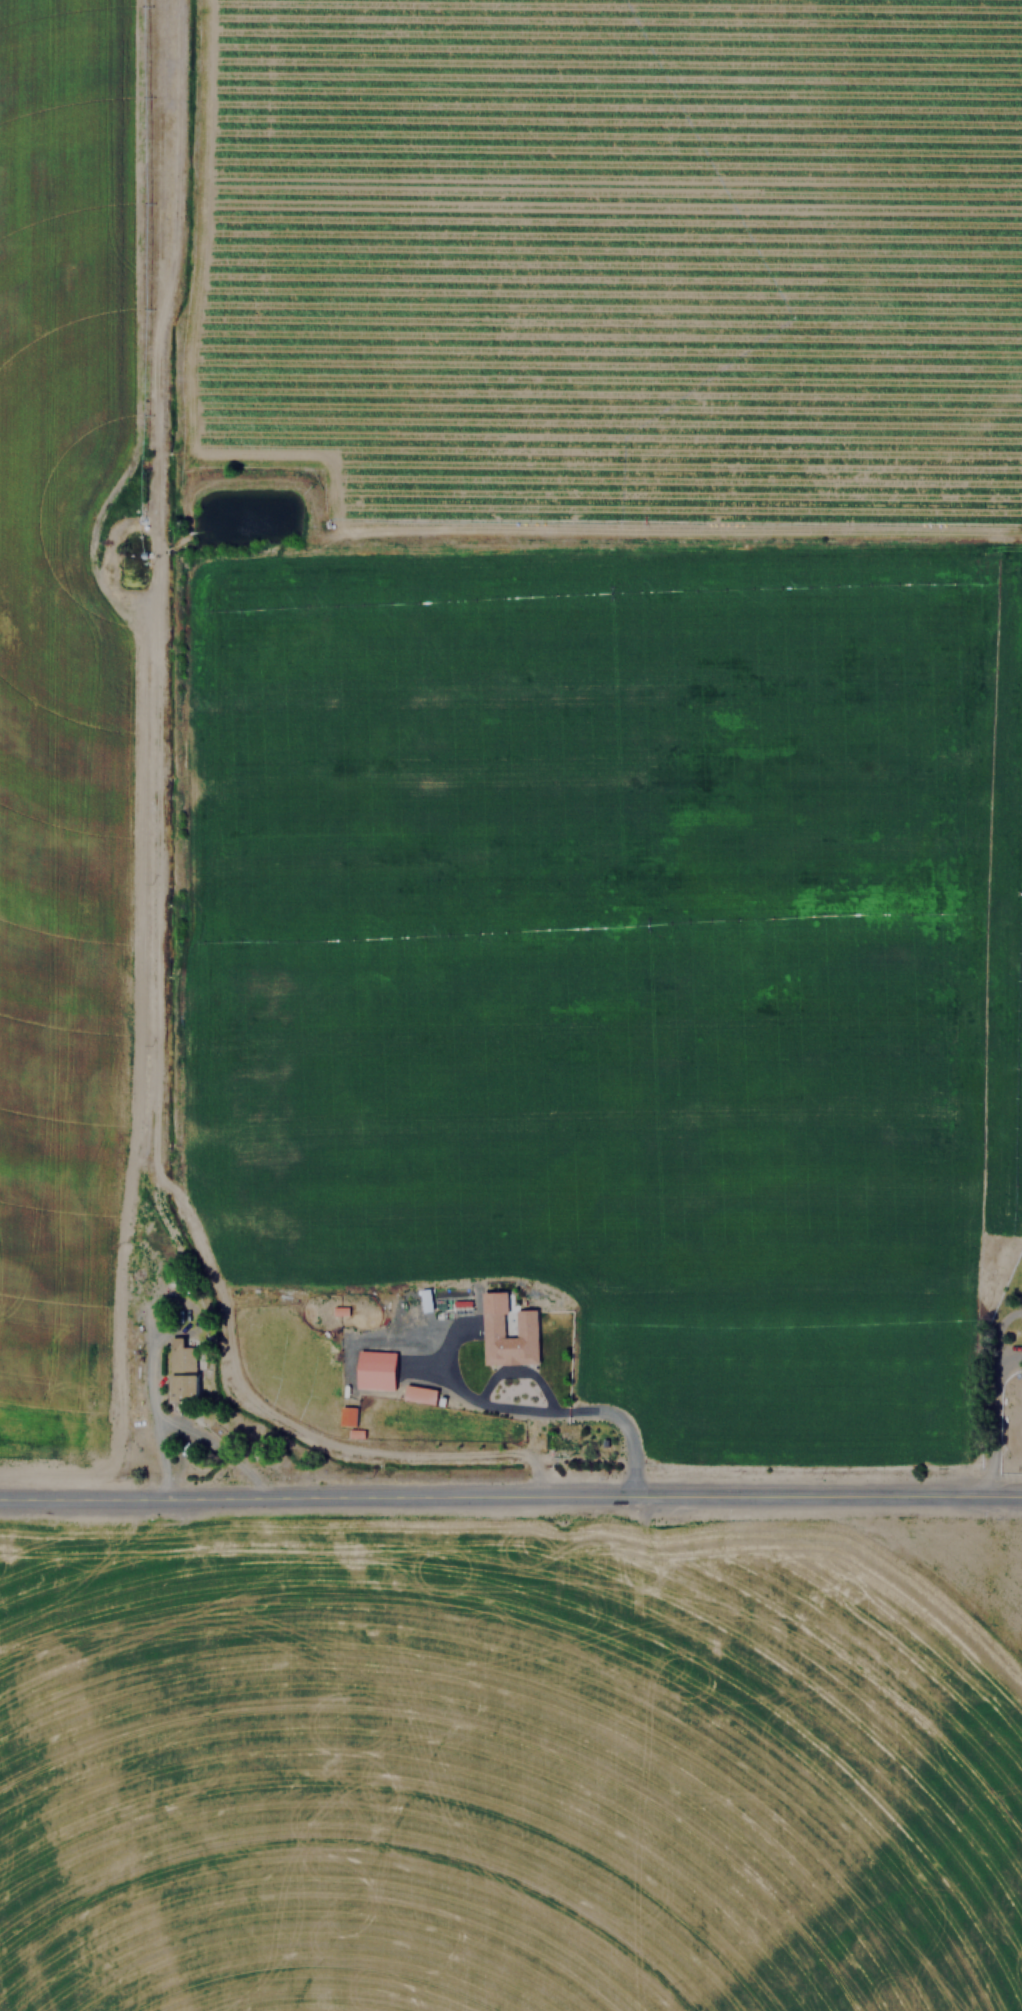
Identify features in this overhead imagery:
crop: (463, 627)
building: (1021, 1321)
building: (492, 1324)
building: (183, 1367)
building: (377, 1369)
road: (153, 1401)
road: (535, 1409)
building: (348, 1415)
road: (510, 1498)
crop: (511, 1766)

